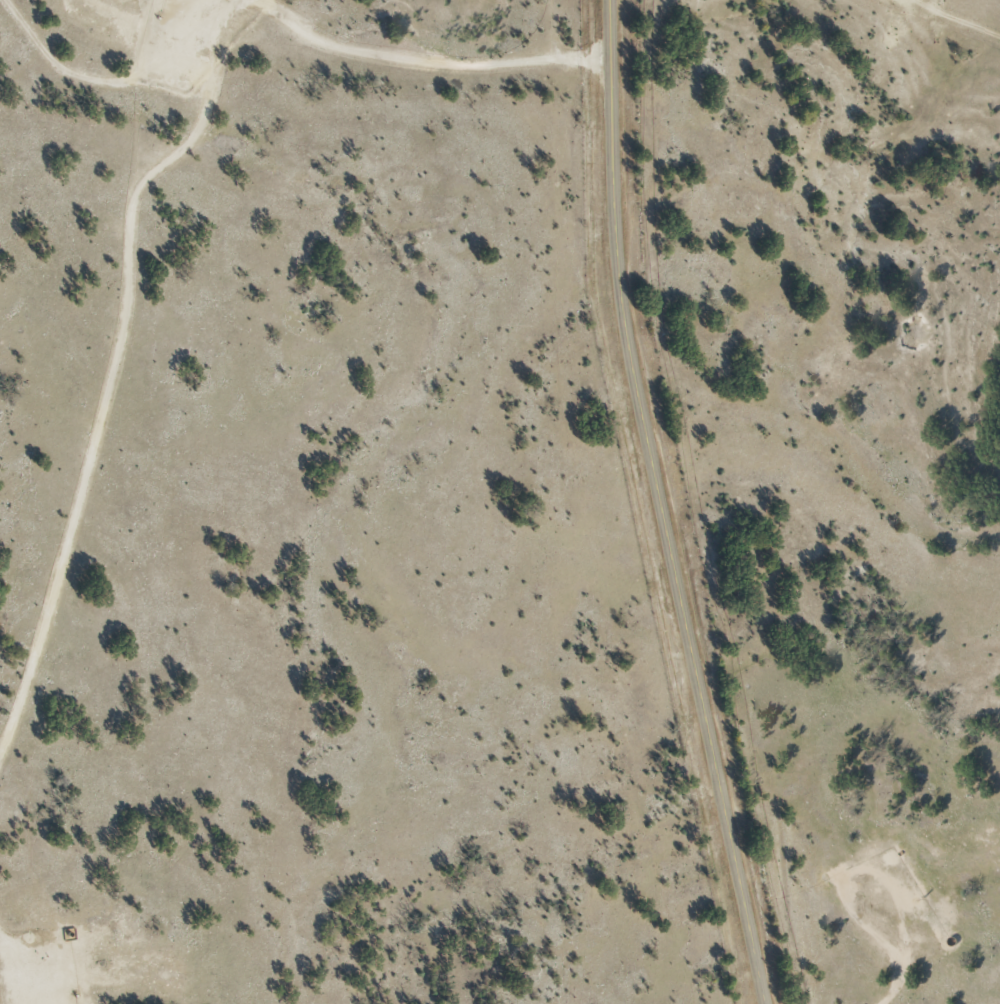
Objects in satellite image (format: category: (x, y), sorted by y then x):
road: (937, 20)
road: (662, 505)

